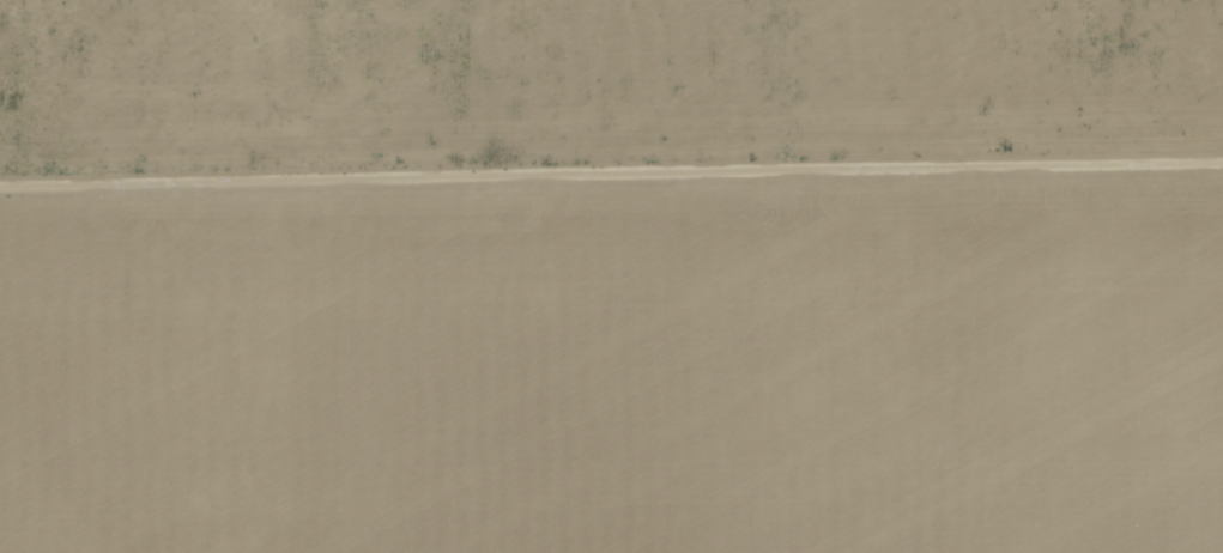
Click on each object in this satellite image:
crop: (611, 276)

